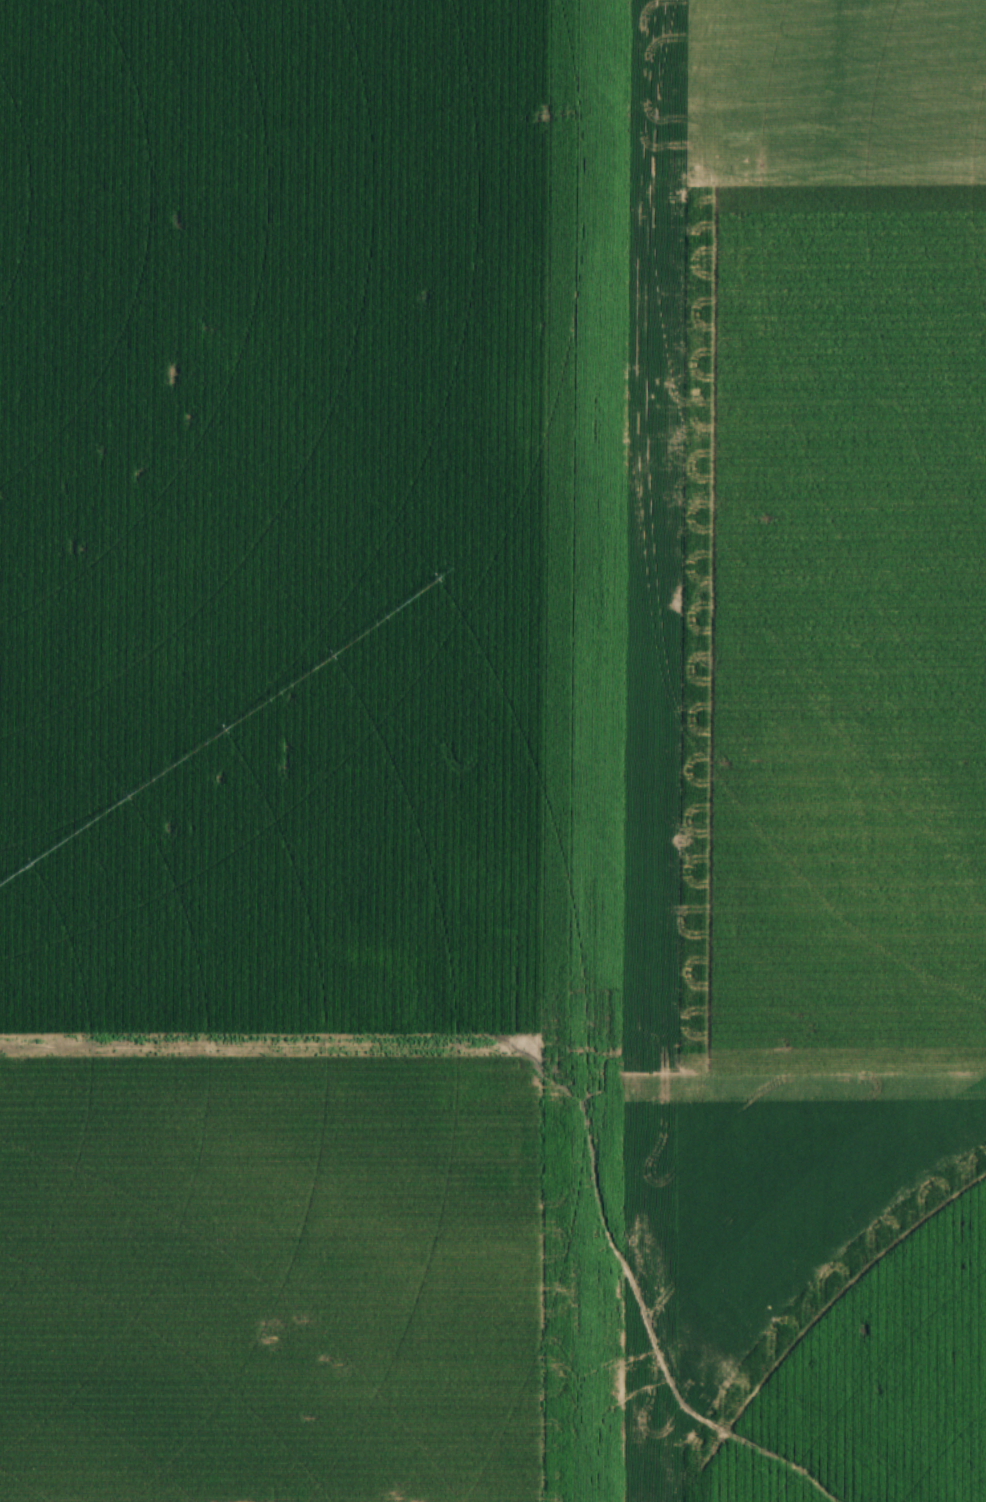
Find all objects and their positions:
crop: (315, 750)

